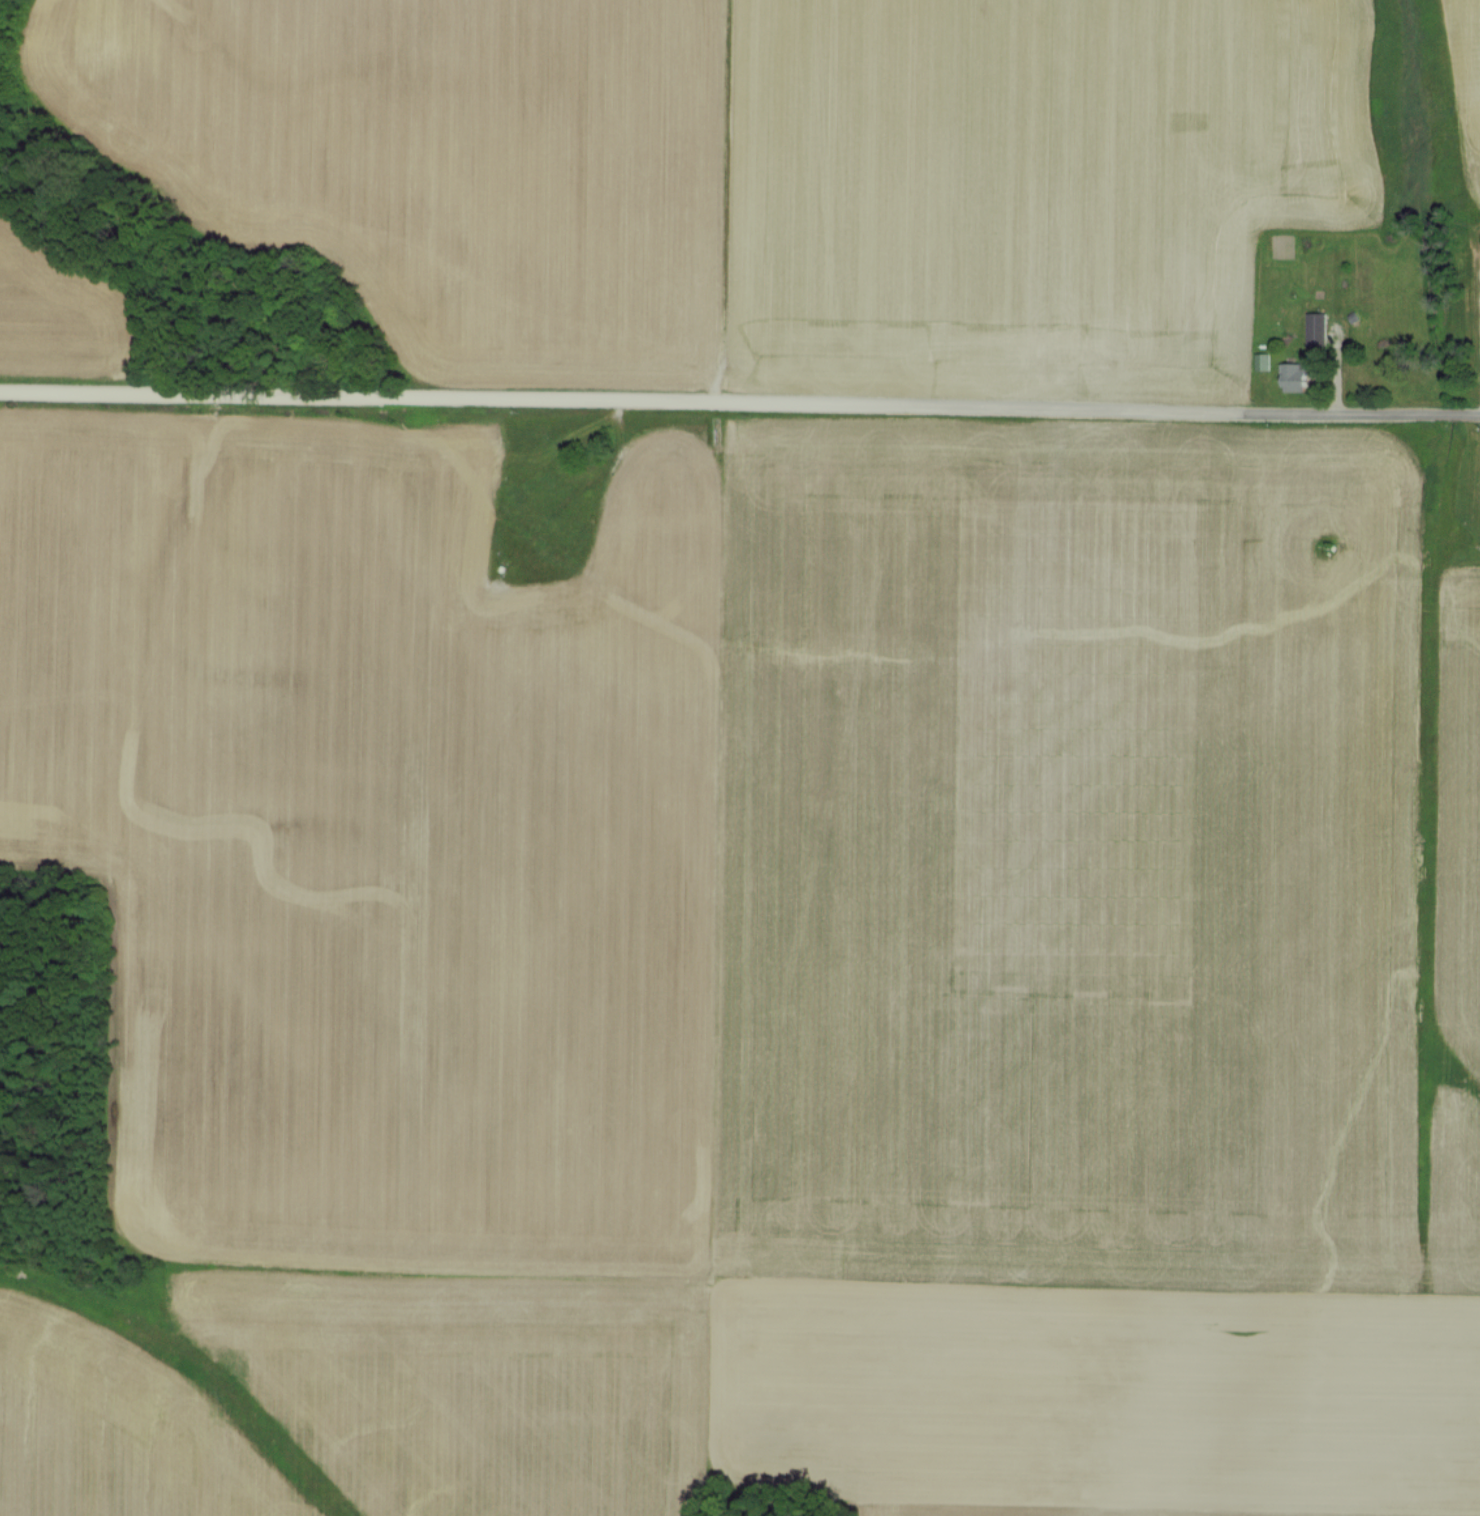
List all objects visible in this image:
building: (1314, 328)
building: (1294, 374)
road: (740, 401)

